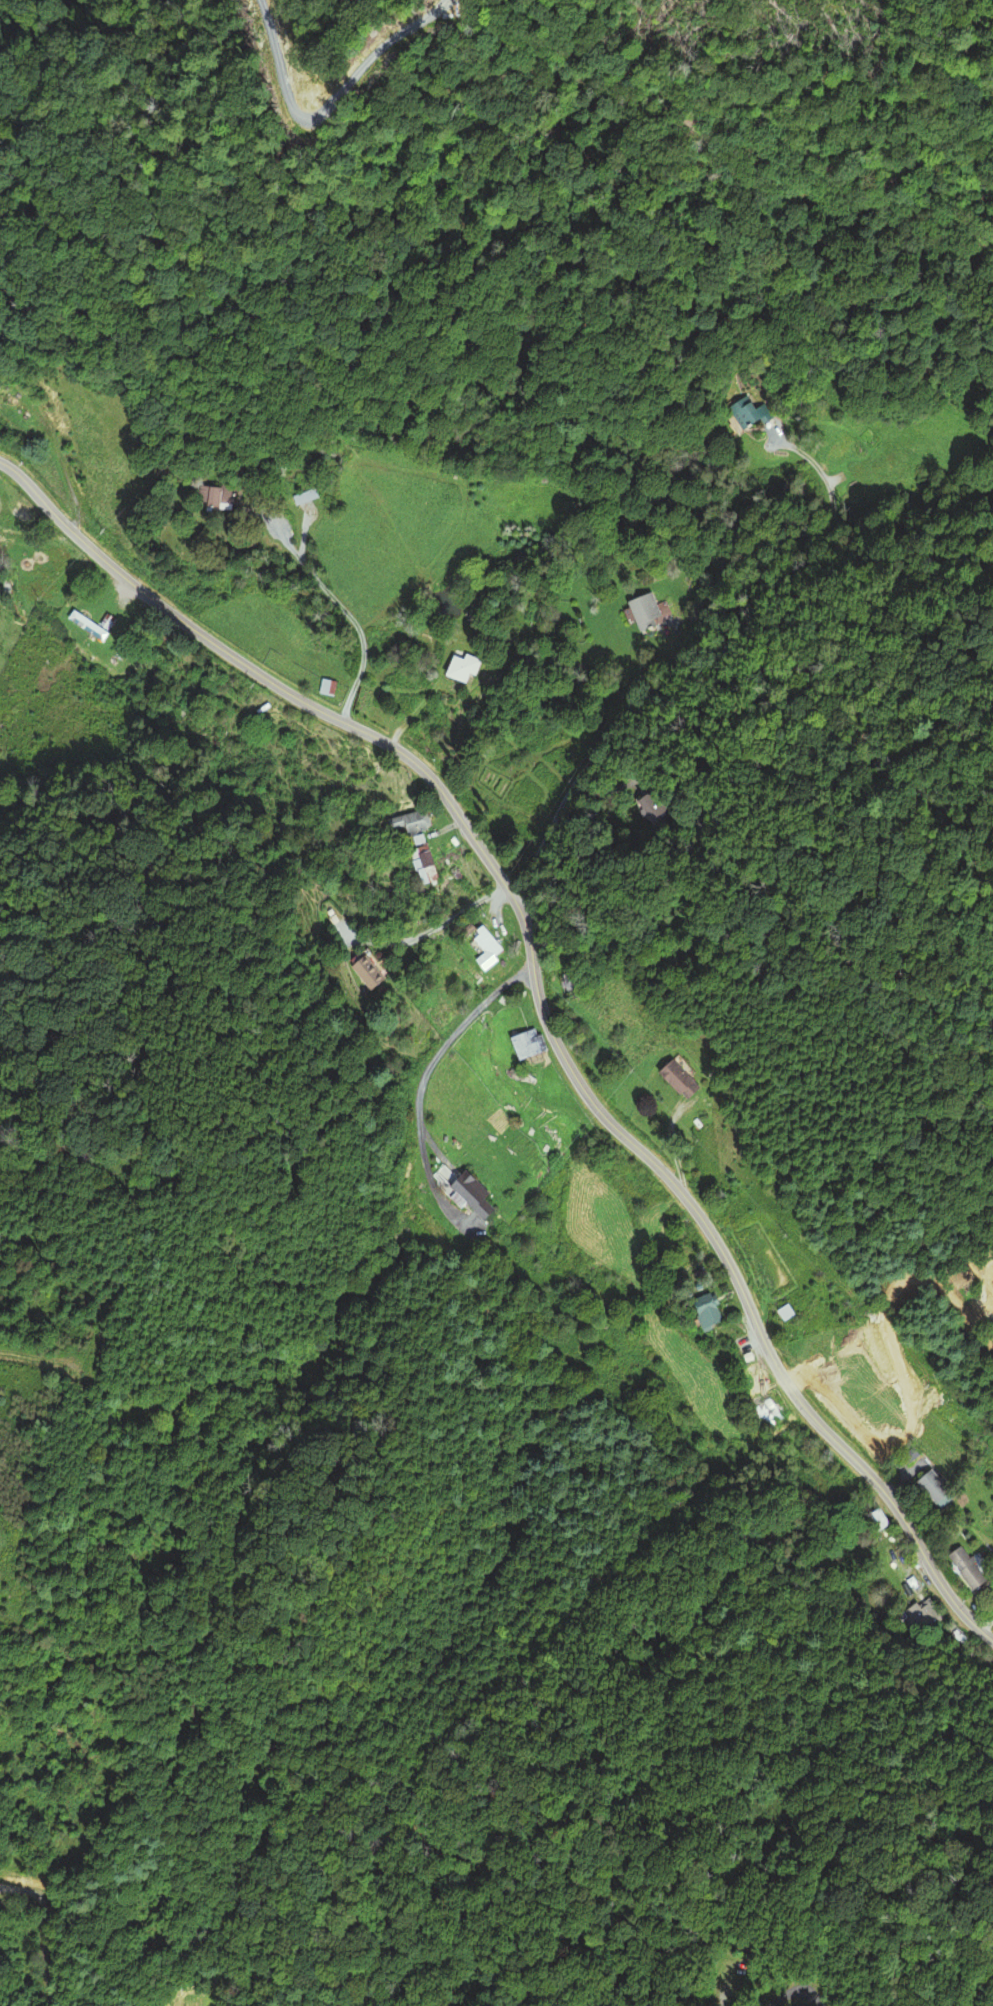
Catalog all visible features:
road: (206, 319)
building: (755, 411)
building: (215, 496)
building: (308, 498)
road: (752, 559)
building: (642, 611)
road: (346, 614)
building: (91, 625)
building: (459, 668)
building: (324, 687)
road: (579, 774)
road: (429, 930)
building: (481, 947)
building: (363, 970)
building: (571, 984)
road: (538, 1002)
building: (522, 1044)
road: (443, 1047)
building: (679, 1080)
building: (460, 1191)
building: (686, 1260)
building: (704, 1312)
road: (36, 1357)
building: (769, 1404)
building: (913, 1456)
building: (938, 1489)
building: (876, 1520)
building: (969, 1568)
building: (924, 1619)
road: (729, 1984)
road: (793, 1992)

